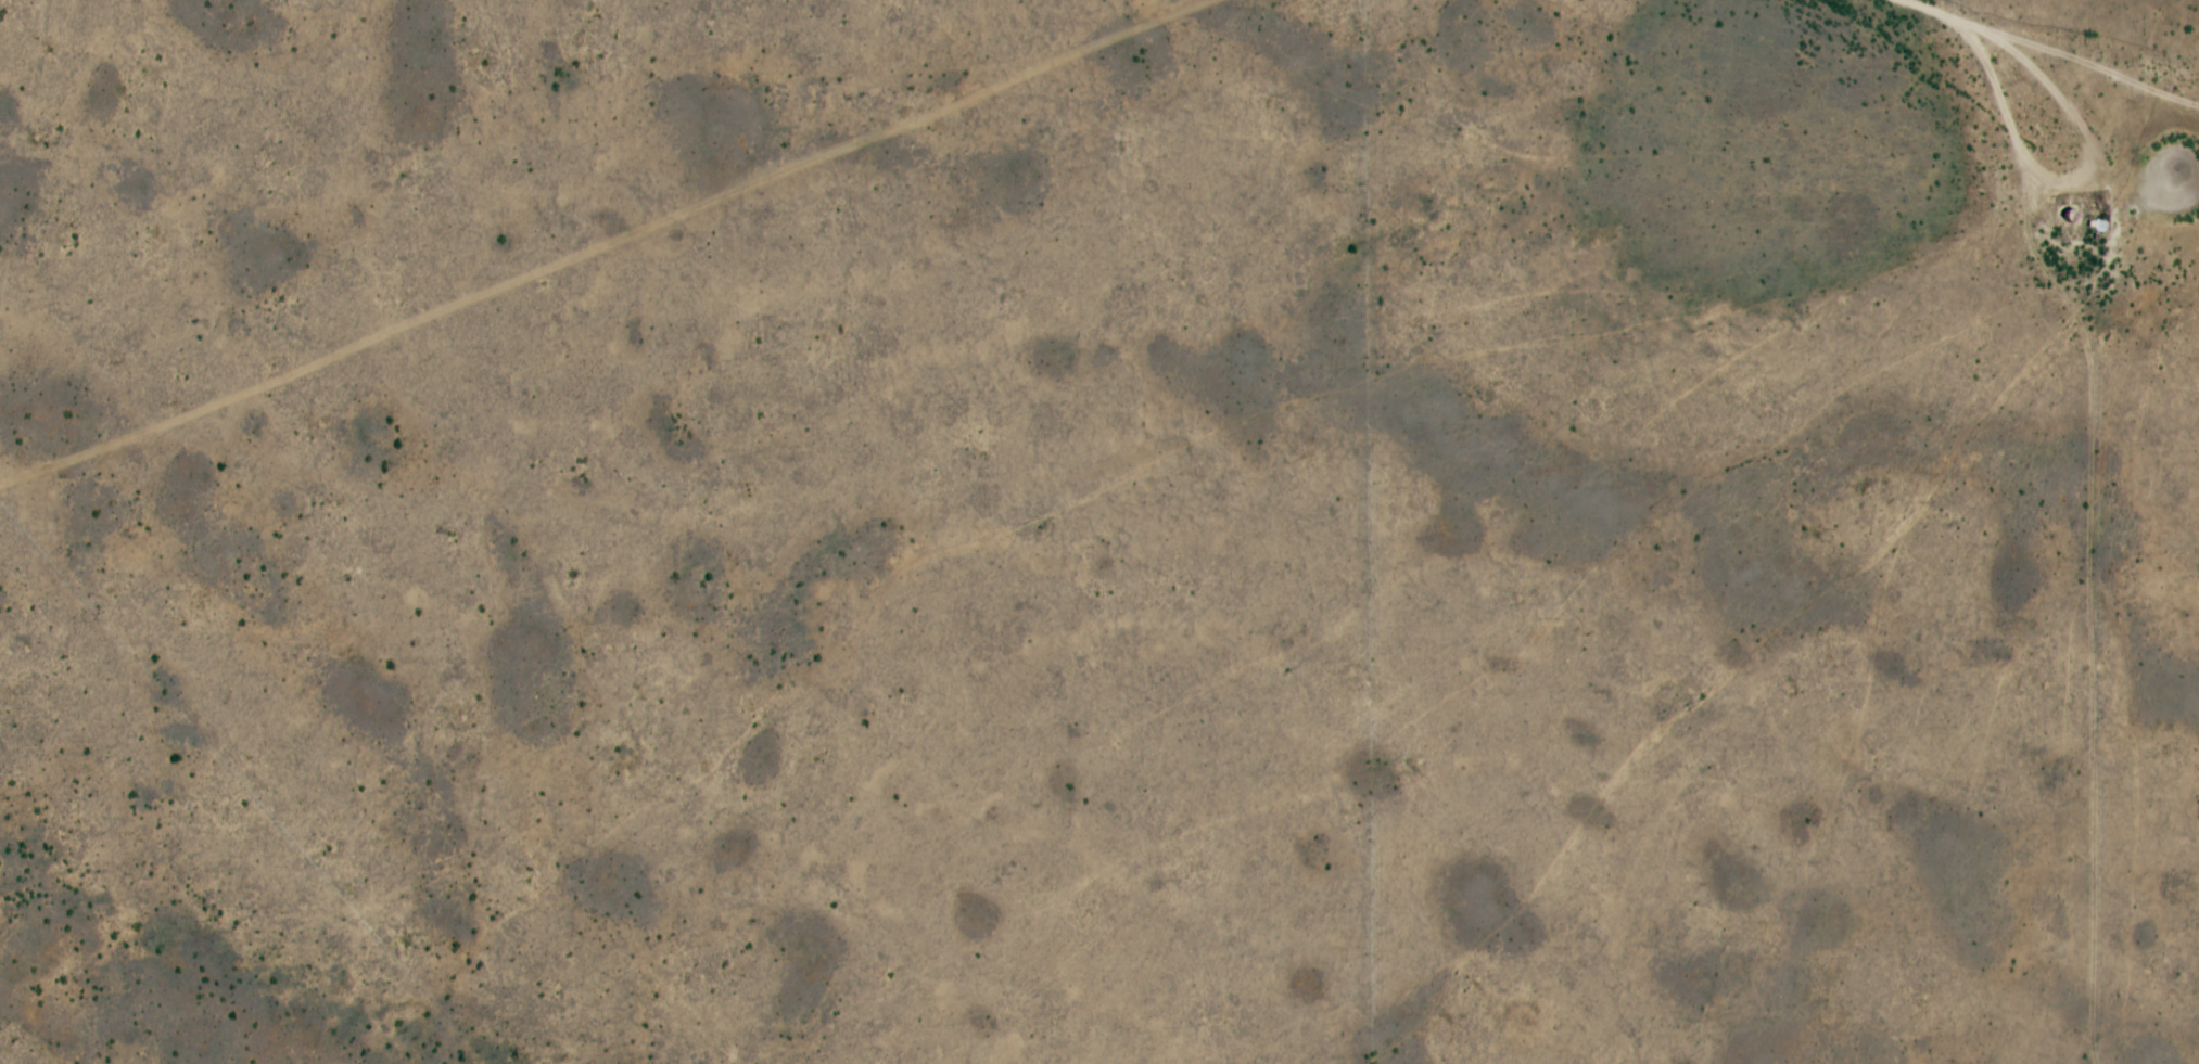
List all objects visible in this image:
road: (2141, 25)

